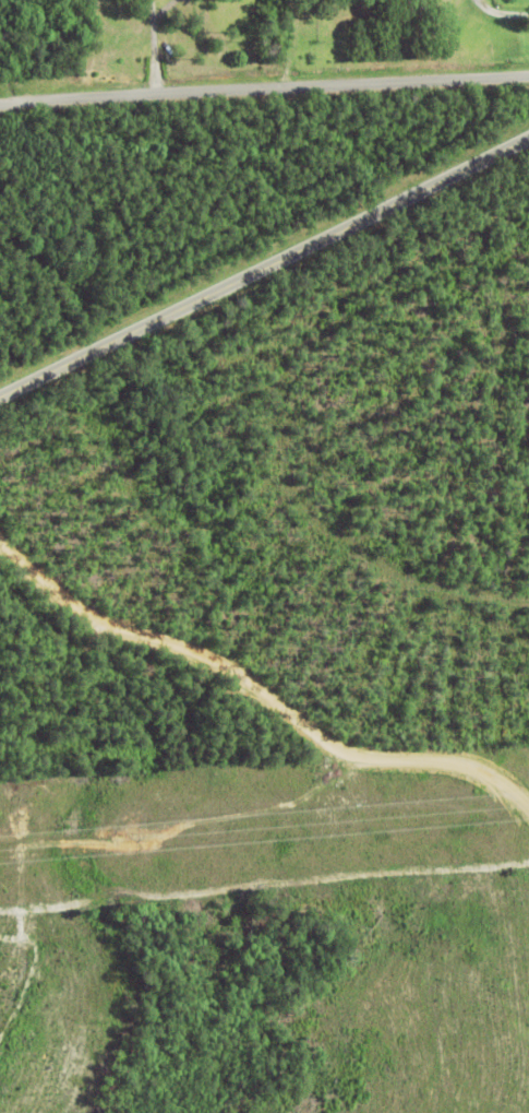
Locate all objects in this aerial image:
road: (157, 47)
road: (264, 88)
road: (264, 270)
road: (259, 690)

